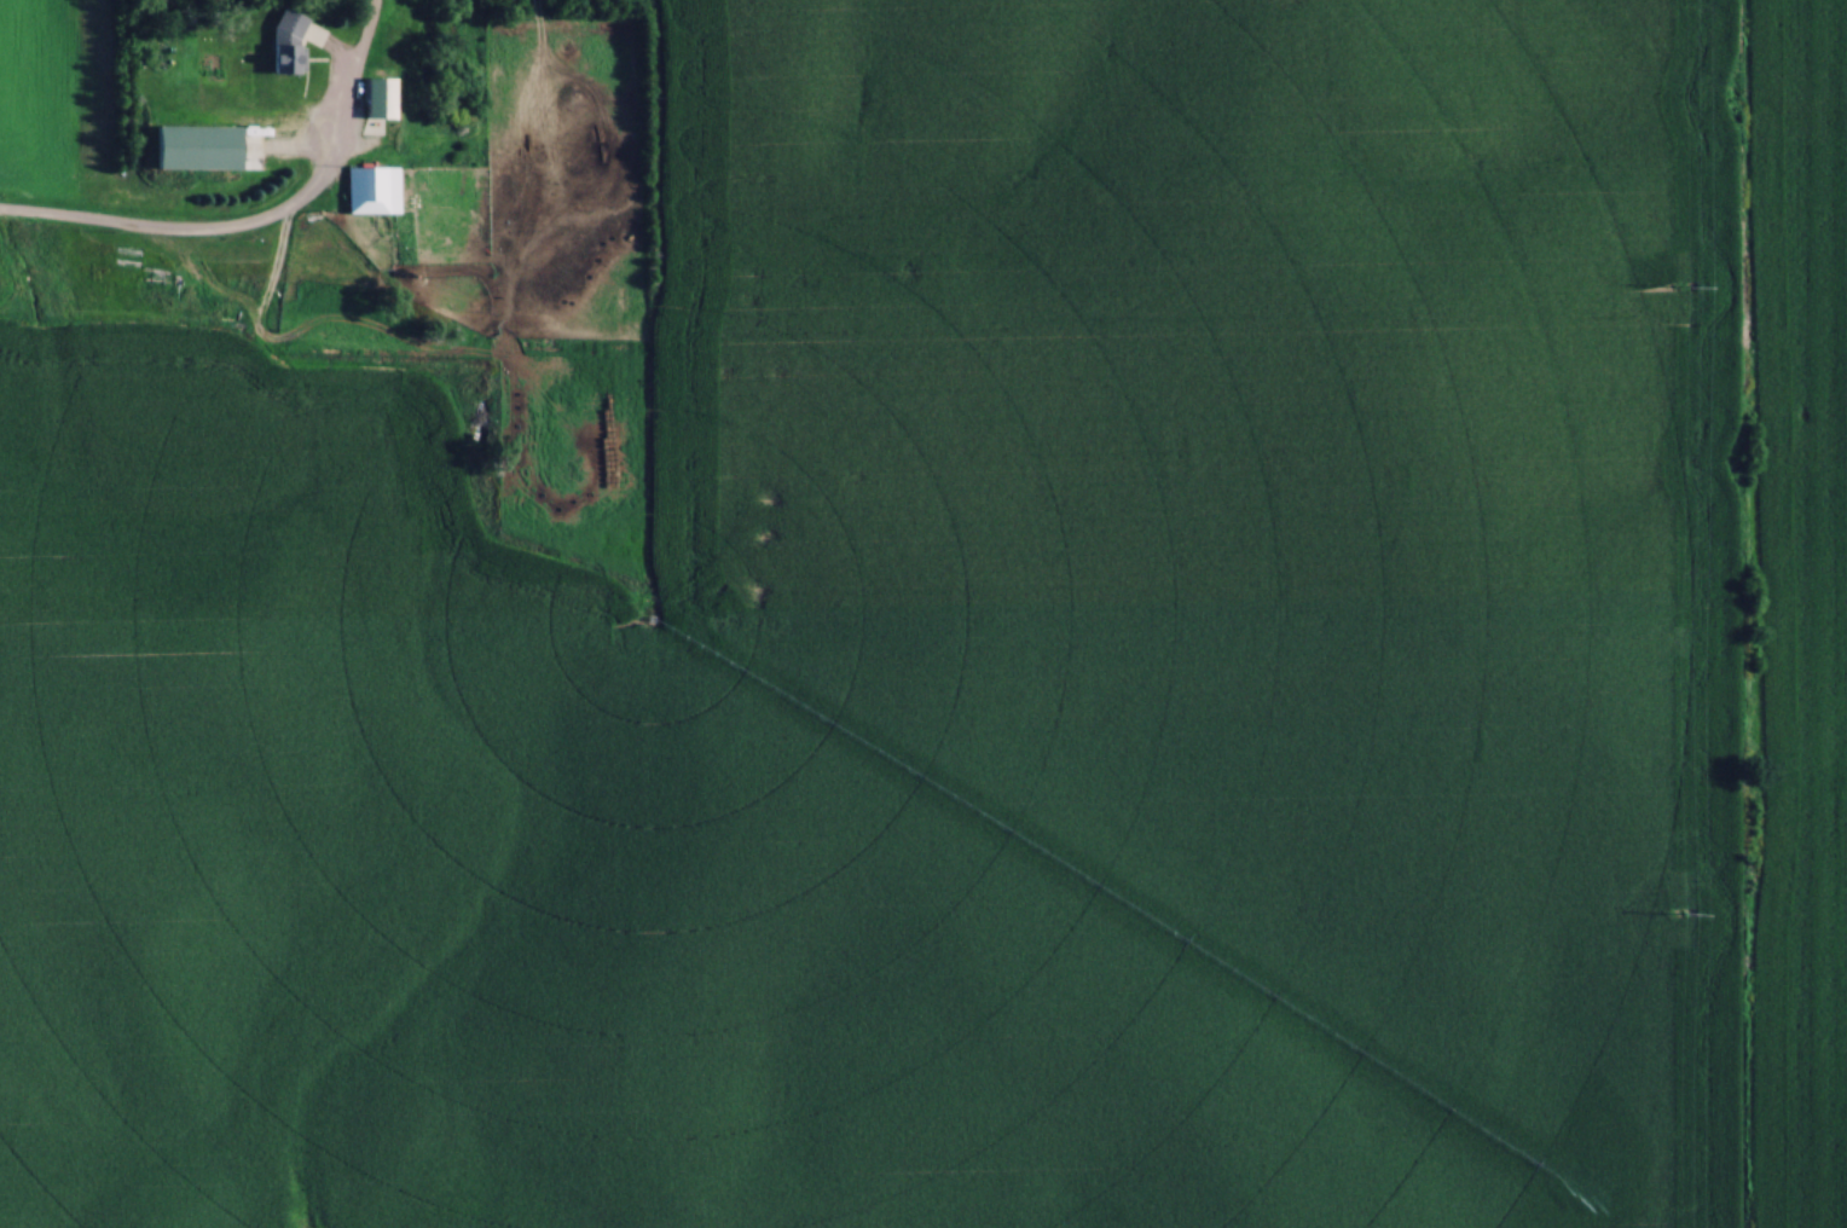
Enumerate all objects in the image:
building: (155, 42)
building: (282, 45)
building: (370, 106)
building: (276, 123)
building: (150, 150)
building: (198, 157)
building: (364, 192)
building: (452, 227)
road: (215, 239)
power tower: (1680, 291)
power tower: (1681, 917)

